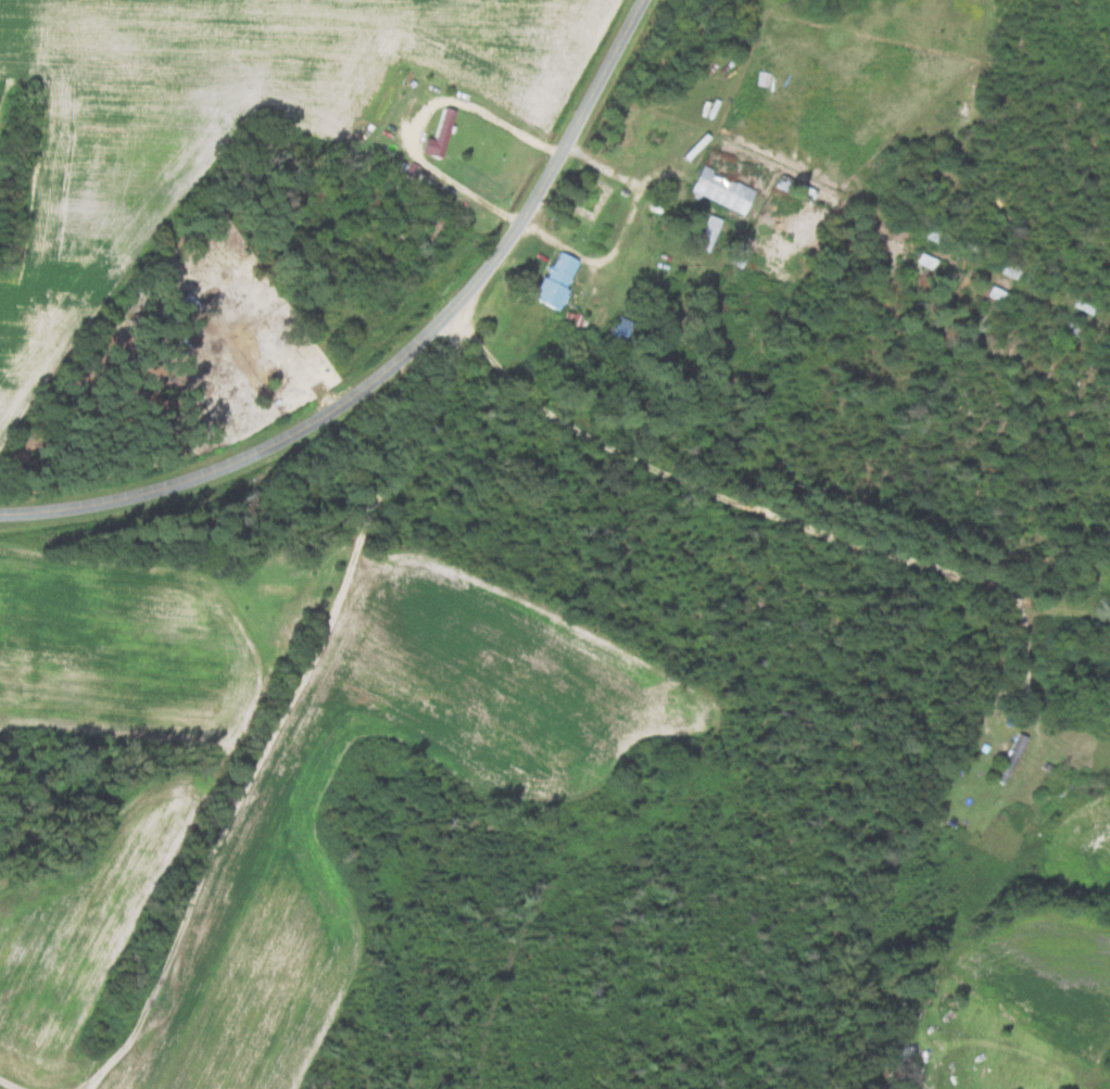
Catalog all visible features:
building: (441, 134)
building: (720, 190)
building: (706, 232)
building: (934, 238)
building: (924, 261)
building: (1008, 271)
building: (554, 279)
building: (996, 294)
building: (1081, 306)
building: (1070, 328)
building: (619, 329)
road: (467, 354)
road: (396, 358)
road: (793, 523)
building: (276, 591)
building: (1076, 659)
road: (306, 745)
building: (1008, 758)
road: (1060, 973)
building: (898, 1059)

